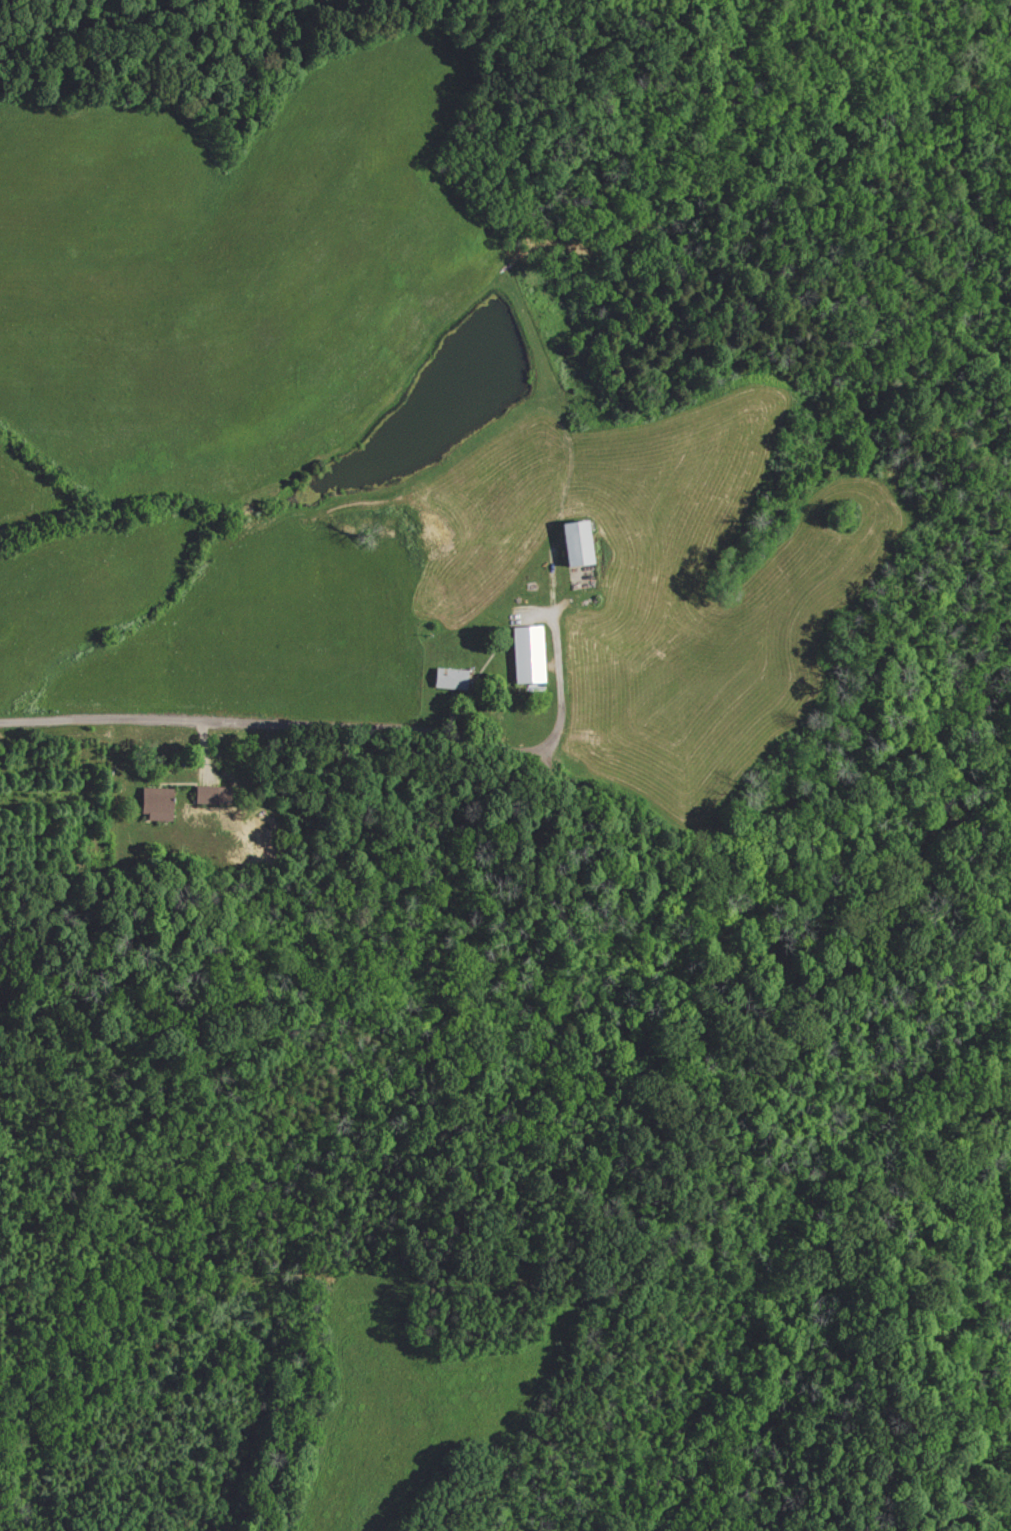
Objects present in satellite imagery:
building: (572, 542)
building: (524, 654)
building: (446, 678)
road: (342, 722)
building: (218, 795)
building: (165, 804)

